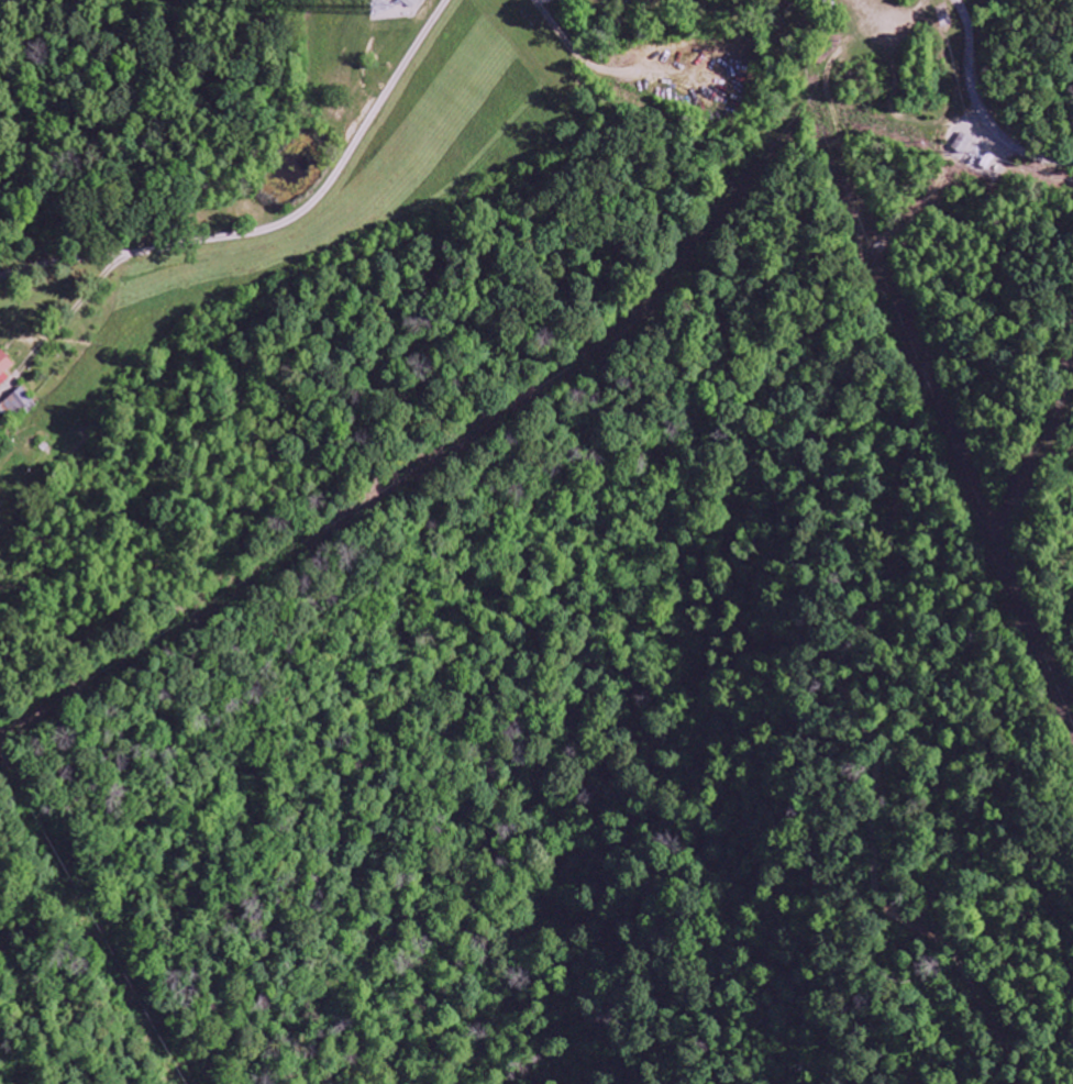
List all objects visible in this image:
road: (980, 108)
building: (962, 144)
building: (4, 367)
building: (22, 403)

